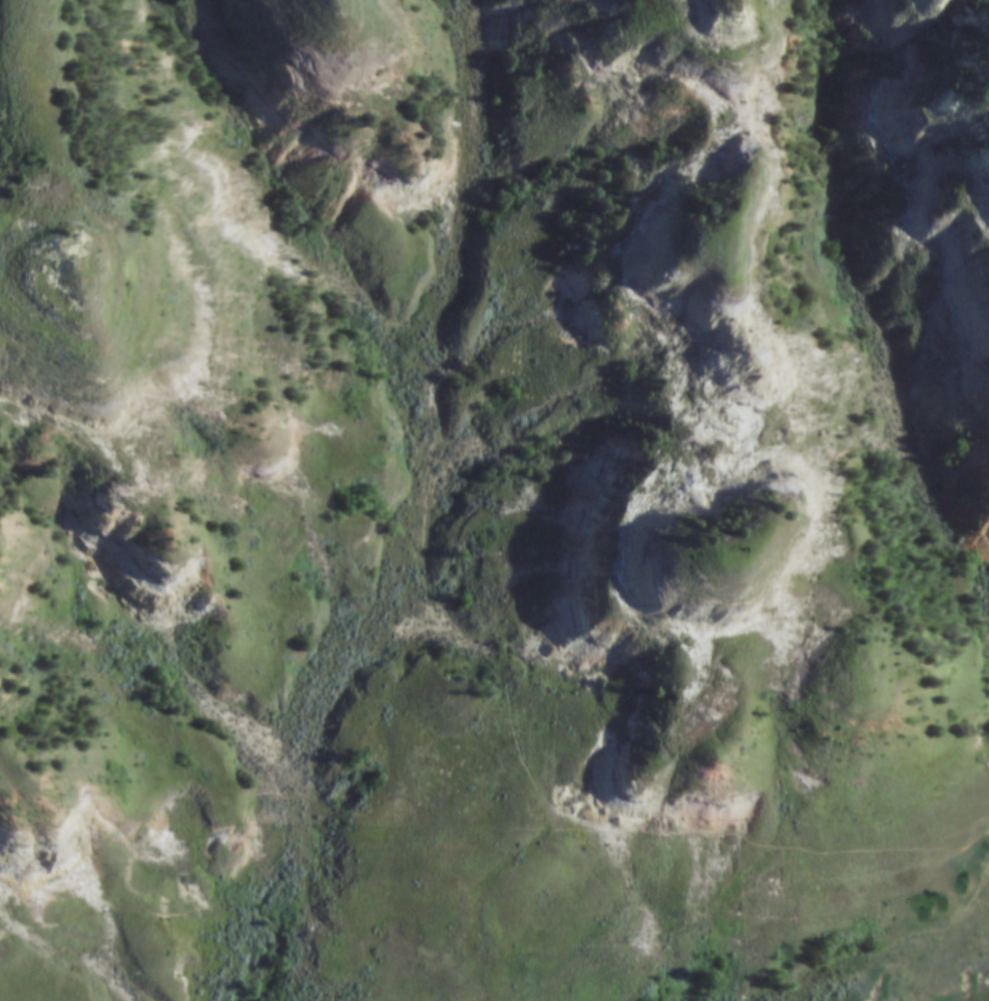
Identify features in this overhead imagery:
road: (555, 956)

